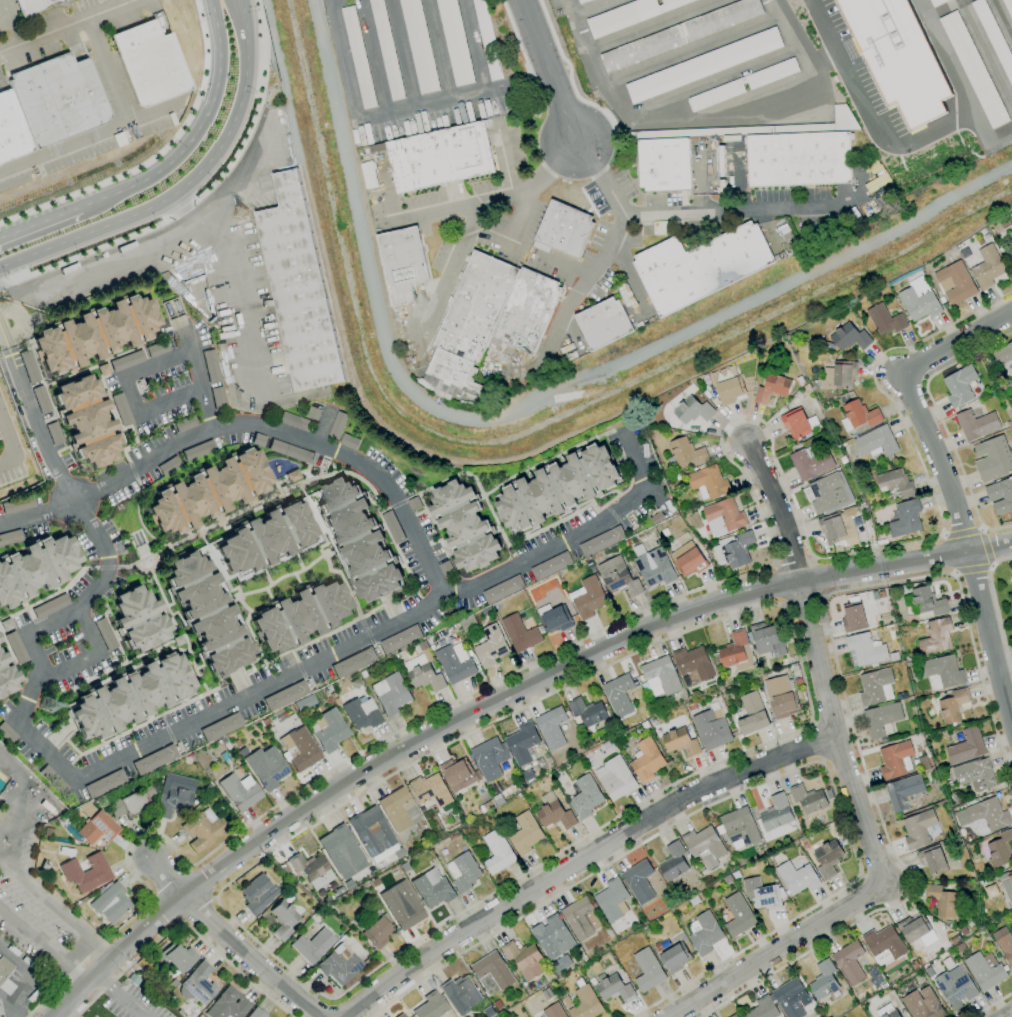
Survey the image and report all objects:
building: (577, 0)
building: (933, 2)
building: (31, 5)
road: (590, 8)
building: (629, 14)
road: (649, 23)
road: (63, 26)
building: (351, 30)
building: (680, 34)
building: (452, 42)
building: (997, 45)
building: (417, 46)
road: (689, 46)
building: (385, 49)
road: (985, 53)
building: (896, 58)
road: (822, 61)
building: (149, 62)
building: (702, 65)
road: (217, 69)
building: (972, 69)
road: (548, 70)
road: (243, 75)
road: (481, 76)
road: (709, 79)
road: (957, 81)
road: (255, 111)
road: (866, 116)
road: (724, 123)
road: (115, 124)
building: (12, 130)
road: (604, 133)
road: (154, 153)
building: (802, 154)
building: (439, 156)
building: (662, 164)
road: (142, 179)
road: (492, 198)
power tower: (238, 206)
road: (181, 211)
road: (731, 211)
road: (519, 218)
road: (118, 220)
building: (1011, 220)
road: (40, 222)
building: (562, 230)
building: (1011, 234)
road: (607, 248)
road: (85, 253)
building: (1010, 259)
building: (400, 263)
building: (699, 266)
building: (988, 267)
road: (448, 271)
road: (233, 281)
building: (956, 282)
building: (296, 286)
building: (919, 304)
building: (885, 320)
building: (486, 322)
building: (601, 323)
building: (94, 333)
building: (850, 337)
building: (495, 346)
building: (154, 349)
building: (1003, 354)
building: (125, 360)
road: (158, 366)
building: (210, 366)
building: (839, 376)
road: (200, 384)
building: (960, 386)
building: (772, 388)
building: (1010, 389)
building: (730, 391)
road: (131, 397)
building: (217, 397)
building: (40, 399)
road: (171, 404)
road: (913, 404)
building: (120, 409)
building: (693, 410)
building: (312, 412)
building: (860, 414)
road: (35, 419)
building: (85, 420)
building: (293, 421)
building: (795, 423)
road: (940, 423)
building: (336, 424)
building: (976, 424)
road: (255, 425)
building: (876, 442)
building: (198, 449)
road: (9, 450)
building: (289, 451)
building: (687, 452)
parking lot: (9, 458)
building: (993, 459)
building: (811, 463)
building: (168, 465)
building: (293, 475)
building: (708, 482)
building: (895, 483)
building: (557, 487)
building: (207, 491)
building: (830, 493)
building: (1000, 495)
building: (17, 505)
road: (776, 509)
building: (723, 517)
building: (656, 518)
building: (905, 518)
building: (838, 525)
building: (464, 526)
building: (392, 527)
road: (962, 532)
building: (10, 537)
building: (265, 537)
building: (358, 539)
building: (602, 541)
road: (987, 546)
road: (990, 549)
building: (739, 550)
road: (106, 558)
building: (688, 560)
road: (793, 560)
building: (551, 566)
building: (35, 568)
building: (655, 568)
road: (971, 571)
building: (618, 577)
building: (503, 590)
road: (697, 590)
building: (589, 598)
road: (803, 600)
building: (928, 601)
building: (49, 606)
road: (995, 610)
building: (206, 613)
building: (299, 616)
building: (853, 618)
building: (139, 619)
building: (556, 620)
building: (467, 623)
road: (53, 625)
road: (388, 627)
road: (87, 632)
building: (520, 633)
building: (104, 634)
building: (936, 637)
building: (401, 640)
building: (767, 640)
road: (987, 643)
building: (490, 646)
building: (15, 647)
building: (865, 650)
building: (736, 652)
road: (37, 655)
building: (894, 657)
road: (1000, 659)
road: (70, 662)
building: (354, 662)
building: (693, 663)
building: (454, 665)
building: (944, 671)
building: (6, 675)
building: (661, 675)
building: (425, 678)
building: (874, 686)
building: (619, 694)
road: (806, 694)
building: (393, 695)
building: (129, 696)
building: (286, 696)
building: (781, 698)
power tower: (47, 699)
road: (844, 699)
building: (691, 706)
building: (953, 706)
building: (587, 711)
building: (362, 713)
road: (475, 714)
building: (752, 714)
building: (881, 718)
building: (221, 727)
building: (551, 728)
building: (712, 729)
building: (329, 730)
road: (28, 732)
building: (6, 733)
road: (834, 734)
road: (816, 741)
building: (680, 742)
building: (236, 743)
building: (522, 743)
building: (966, 746)
building: (300, 749)
building: (488, 758)
building: (894, 759)
building: (155, 760)
building: (646, 760)
building: (267, 767)
building: (458, 774)
building: (974, 774)
building: (527, 775)
building: (616, 778)
road: (758, 783)
building: (105, 784)
building: (430, 790)
building: (239, 791)
building: (903, 792)
building: (829, 794)
road: (19, 797)
building: (585, 797)
building: (497, 799)
building: (808, 799)
building: (132, 802)
building: (173, 802)
building: (487, 805)
building: (396, 808)
building: (554, 813)
building: (984, 814)
building: (775, 818)
building: (739, 827)
building: (97, 828)
building: (918, 829)
building: (202, 831)
building: (372, 831)
building: (525, 834)
building: (705, 846)
building: (341, 849)
building: (1001, 850)
building: (497, 852)
road: (579, 859)
building: (827, 859)
building: (932, 860)
building: (673, 862)
building: (287, 870)
building: (311, 870)
building: (87, 872)
building: (463, 872)
building: (797, 877)
building: (727, 879)
road: (170, 881)
building: (639, 881)
building: (349, 884)
building: (1006, 884)
building: (433, 888)
building: (340, 891)
building: (991, 891)
parking lot: (37, 892)
building: (258, 894)
building: (762, 894)
building: (612, 900)
building: (694, 901)
building: (941, 901)
building: (111, 903)
road: (57, 905)
building: (402, 905)
road: (199, 910)
building: (1011, 914)
building: (738, 915)
building: (285, 917)
building: (581, 918)
road: (183, 924)
building: (377, 930)
building: (916, 930)
building: (705, 934)
building: (552, 937)
road: (32, 938)
road: (234, 939)
building: (1004, 943)
building: (312, 945)
building: (884, 945)
building: (658, 947)
building: (959, 948)
road: (77, 950)
road: (775, 950)
building: (176, 957)
building: (674, 958)
building: (524, 959)
building: (849, 962)
building: (339, 964)
building: (915, 965)
building: (4, 968)
building: (493, 970)
building: (647, 970)
building: (985, 970)
road: (75, 974)
building: (549, 975)
road: (34, 977)
building: (134, 979)
gas station: (20, 981)
building: (823, 981)
building: (198, 984)
building: (955, 987)
building: (615, 989)
building: (460, 994)
building: (546, 994)
road: (121, 996)
building: (789, 997)
building: (566, 1002)
building: (585, 1002)
parking lot: (133, 1003)
building: (497, 1004)
building: (922, 1004)
road: (992, 1004)
building: (228, 1005)
building: (431, 1006)
road: (6, 1008)
building: (763, 1008)
building: (887, 1010)
building: (553, 1011)
building: (180, 1012)
building: (488, 1012)
building: (256, 1013)
road: (62, 1014)
road: (1007, 1014)
building: (401, 1015)
parking lot: (95, 1016)
building: (201, 1016)
building: (734, 1016)

